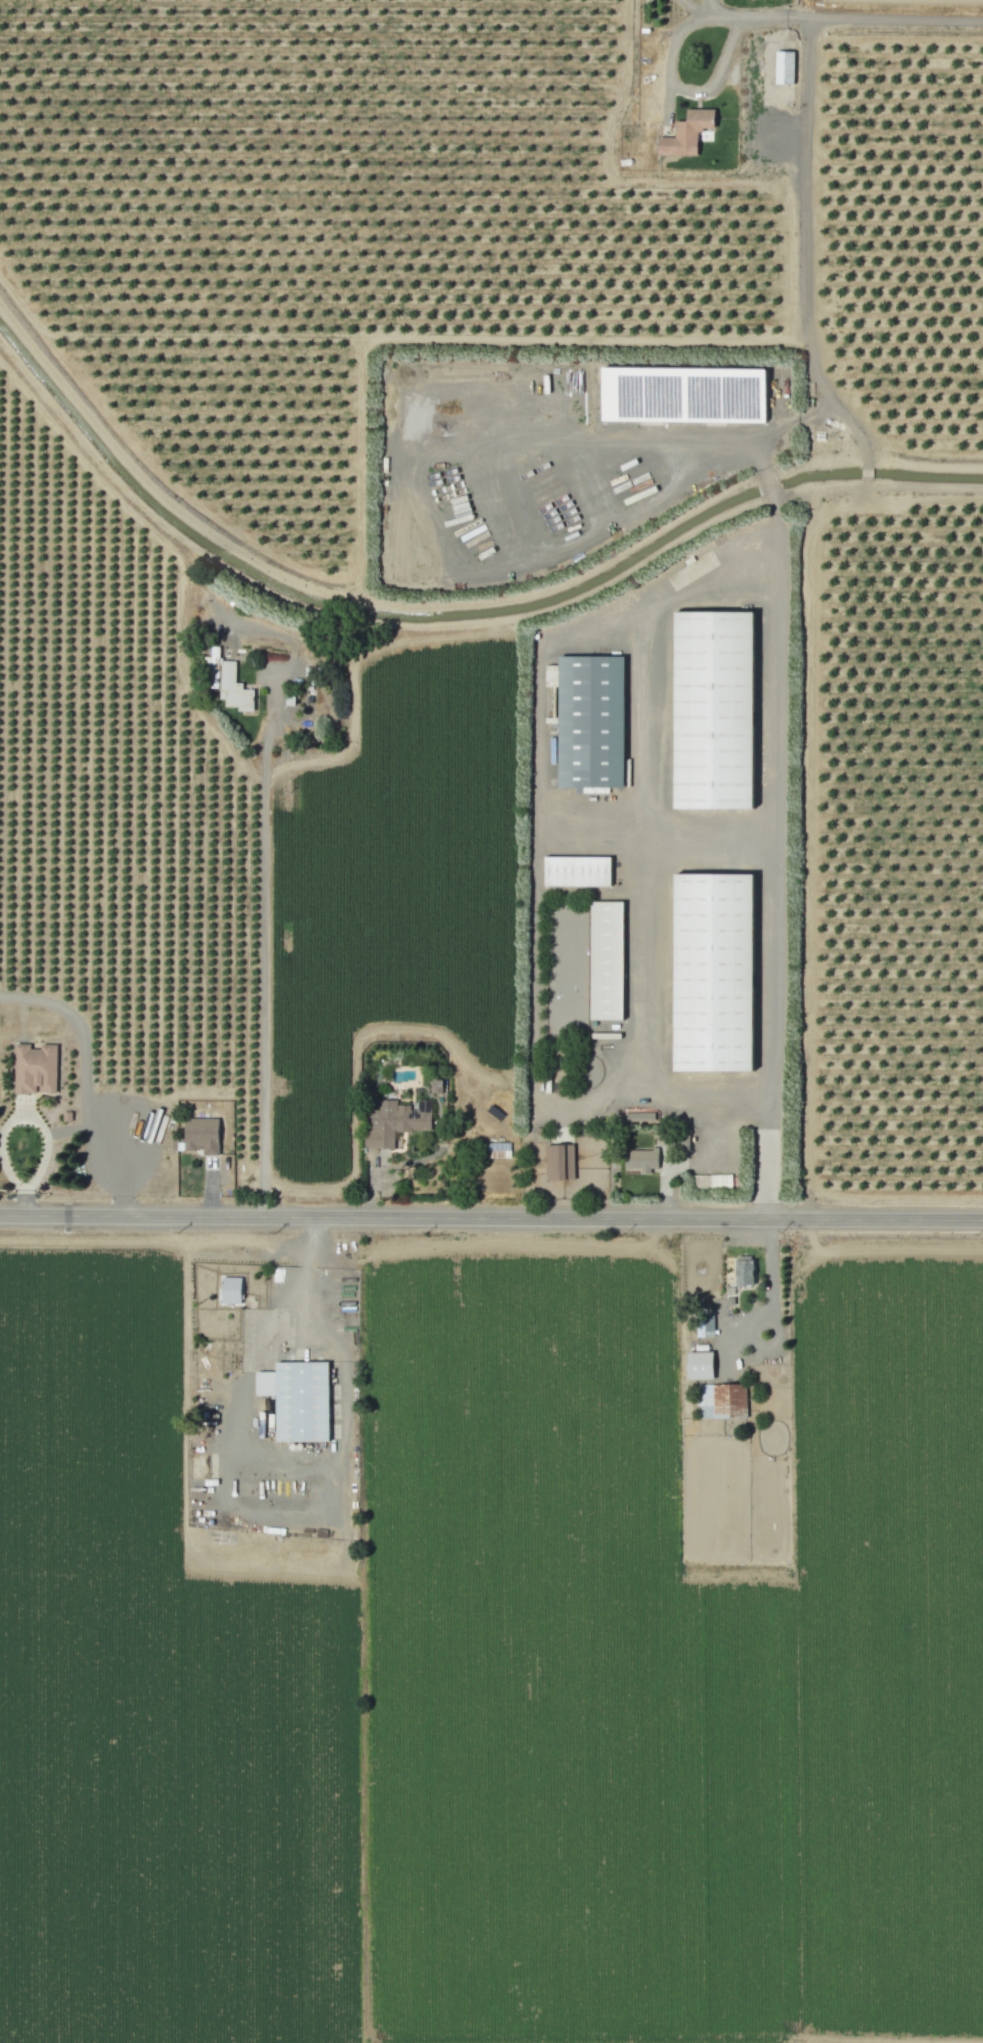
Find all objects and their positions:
road: (701, 14)
road: (724, 18)
road: (771, 20)
road: (893, 22)
building: (784, 67)
road: (685, 89)
building: (686, 134)
road: (803, 181)
road: (811, 369)
building: (682, 394)
road: (784, 424)
road: (701, 443)
road: (768, 488)
road: (774, 506)
building: (212, 666)
building: (233, 689)
building: (713, 710)
building: (589, 721)
road: (536, 728)
road: (707, 836)
road: (642, 844)
road: (771, 868)
building: (576, 871)
building: (605, 960)
road: (268, 966)
building: (712, 972)
road: (567, 975)
building: (34, 1069)
road: (86, 1077)
building: (435, 1086)
road: (11, 1118)
building: (396, 1122)
building: (201, 1135)
road: (0, 1143)
building: (641, 1160)
building: (559, 1162)
road: (388, 1170)
road: (491, 1217)
building: (743, 1271)
road: (766, 1273)
road: (302, 1274)
building: (230, 1290)
building: (704, 1326)
building: (699, 1365)
building: (301, 1401)
building: (721, 1401)

